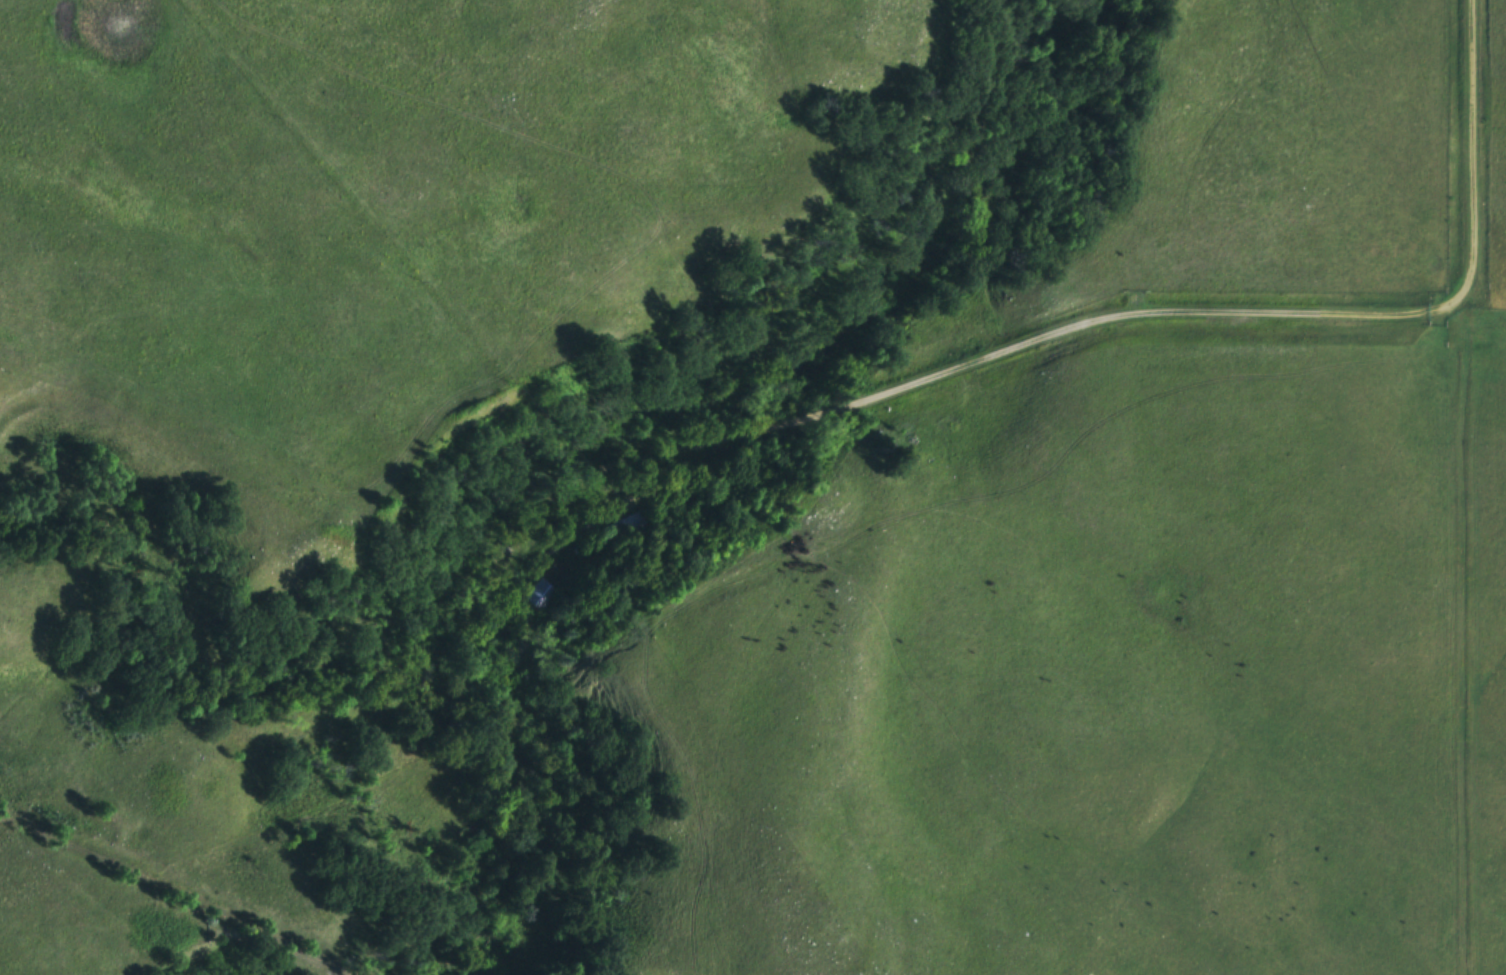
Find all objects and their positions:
road: (1471, 149)
road: (963, 366)
building: (667, 510)
building: (628, 527)
building: (559, 573)
building: (542, 594)

